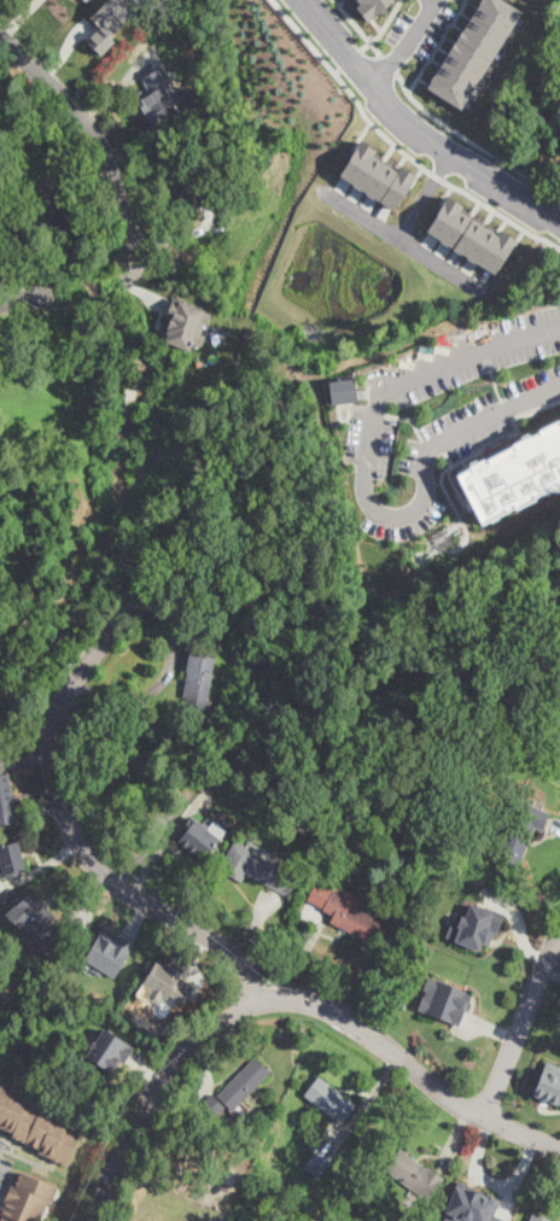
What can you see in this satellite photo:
parking lot: (460, 0)
building: (369, 7)
parking lot: (555, 10)
road: (17, 17)
building: (109, 21)
road: (356, 27)
road: (381, 27)
parking lot: (420, 28)
road: (406, 46)
road: (436, 46)
building: (472, 49)
road: (63, 51)
road: (349, 58)
road: (387, 63)
road: (337, 70)
road: (121, 87)
building: (163, 101)
road: (413, 129)
road: (94, 139)
road: (471, 140)
road: (396, 145)
building: (375, 175)
building: (185, 183)
road: (424, 195)
building: (469, 234)
road: (177, 236)
road: (401, 238)
road: (19, 298)
road: (146, 298)
building: (185, 323)
building: (339, 390)
parking lot: (472, 422)
building: (512, 472)
road: (366, 481)
building: (246, 545)
road: (197, 574)
building: (256, 673)
building: (197, 679)
road: (156, 682)
building: (507, 737)
building: (526, 756)
road: (25, 758)
road: (97, 760)
building: (145, 769)
building: (6, 801)
building: (304, 824)
road: (555, 824)
road: (70, 825)
building: (521, 828)
building: (200, 837)
road: (164, 845)
building: (11, 860)
road: (39, 867)
building: (256, 869)
road: (84, 910)
road: (138, 916)
building: (34, 918)
building: (355, 918)
road: (255, 925)
building: (474, 925)
road: (517, 925)
road: (556, 946)
building: (109, 952)
road: (196, 954)
road: (294, 958)
road: (550, 974)
building: (165, 981)
road: (286, 997)
building: (443, 1000)
road: (523, 1021)
road: (490, 1028)
building: (109, 1047)
road: (146, 1068)
building: (0, 1080)
building: (548, 1082)
building: (243, 1083)
road: (200, 1089)
building: (329, 1099)
building: (210, 1106)
road: (362, 1106)
building: (36, 1126)
road: (454, 1137)
road: (25, 1146)
road: (25, 1149)
road: (30, 1159)
building: (316, 1163)
parking lot: (5, 1168)
building: (412, 1173)
road: (11, 1179)
road: (489, 1181)
building: (218, 1196)
building: (27, 1199)
building: (469, 1204)
building: (537, 1217)

